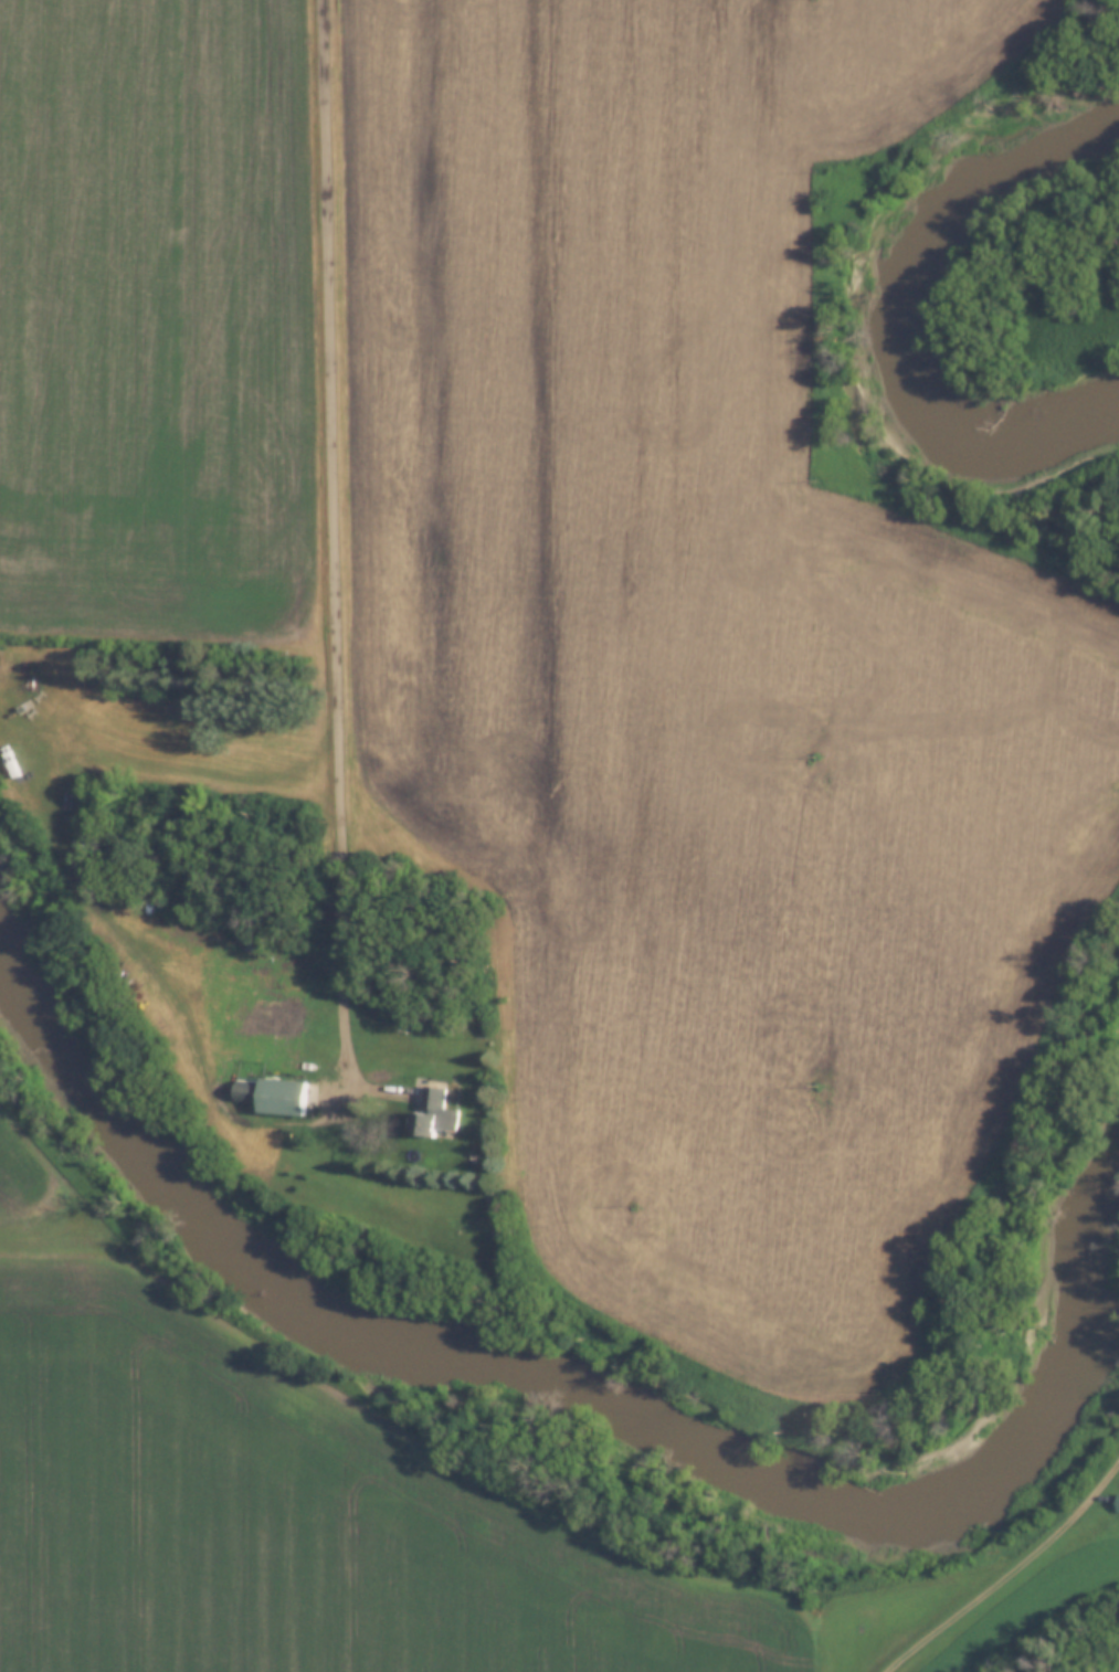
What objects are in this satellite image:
river: (938, 301)
road: (335, 527)
building: (289, 1010)
building: (370, 1015)
building: (275, 1098)
road: (359, 1105)
building: (430, 1109)
river: (540, 1361)
building: (1116, 1503)
road: (1012, 1576)

